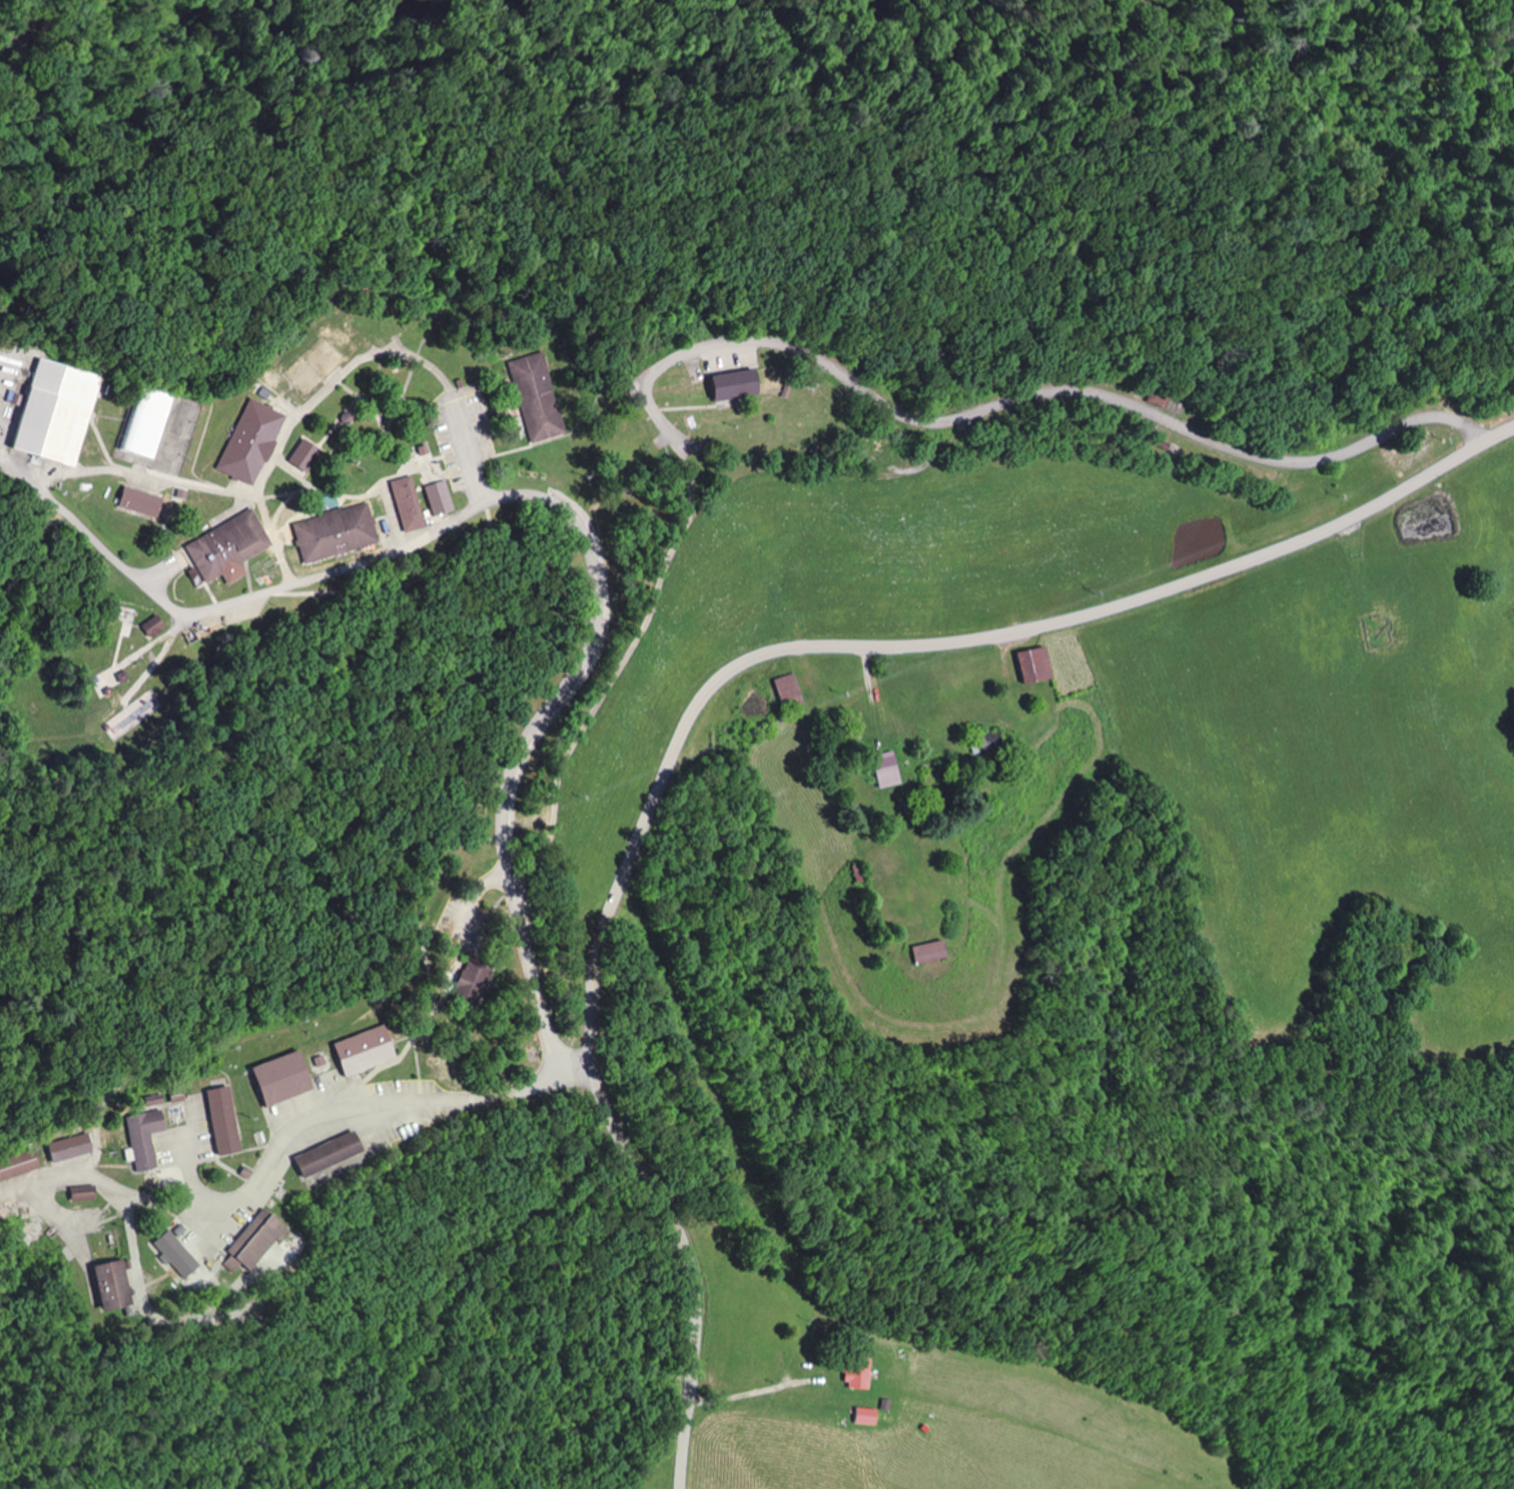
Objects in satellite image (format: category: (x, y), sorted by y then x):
road: (802, 350)
building: (316, 360)
building: (733, 386)
building: (537, 397)
building: (55, 412)
building: (145, 424)
building: (249, 440)
road: (469, 453)
road: (4, 456)
building: (304, 456)
building: (439, 499)
building: (140, 503)
building: (407, 505)
road: (559, 509)
building: (332, 533)
building: (225, 545)
building: (154, 628)
building: (1035, 666)
road: (715, 687)
building: (791, 691)
building: (887, 770)
building: (930, 954)
building: (364, 1052)
building: (282, 1080)
building: (151, 1102)
road: (353, 1109)
building: (224, 1123)
building: (144, 1140)
building: (70, 1149)
building: (330, 1160)
building: (18, 1167)
building: (84, 1195)
building: (259, 1245)
building: (177, 1255)
building: (113, 1288)
building: (855, 1373)
road: (755, 1391)
building: (866, 1418)
crop: (954, 1437)

